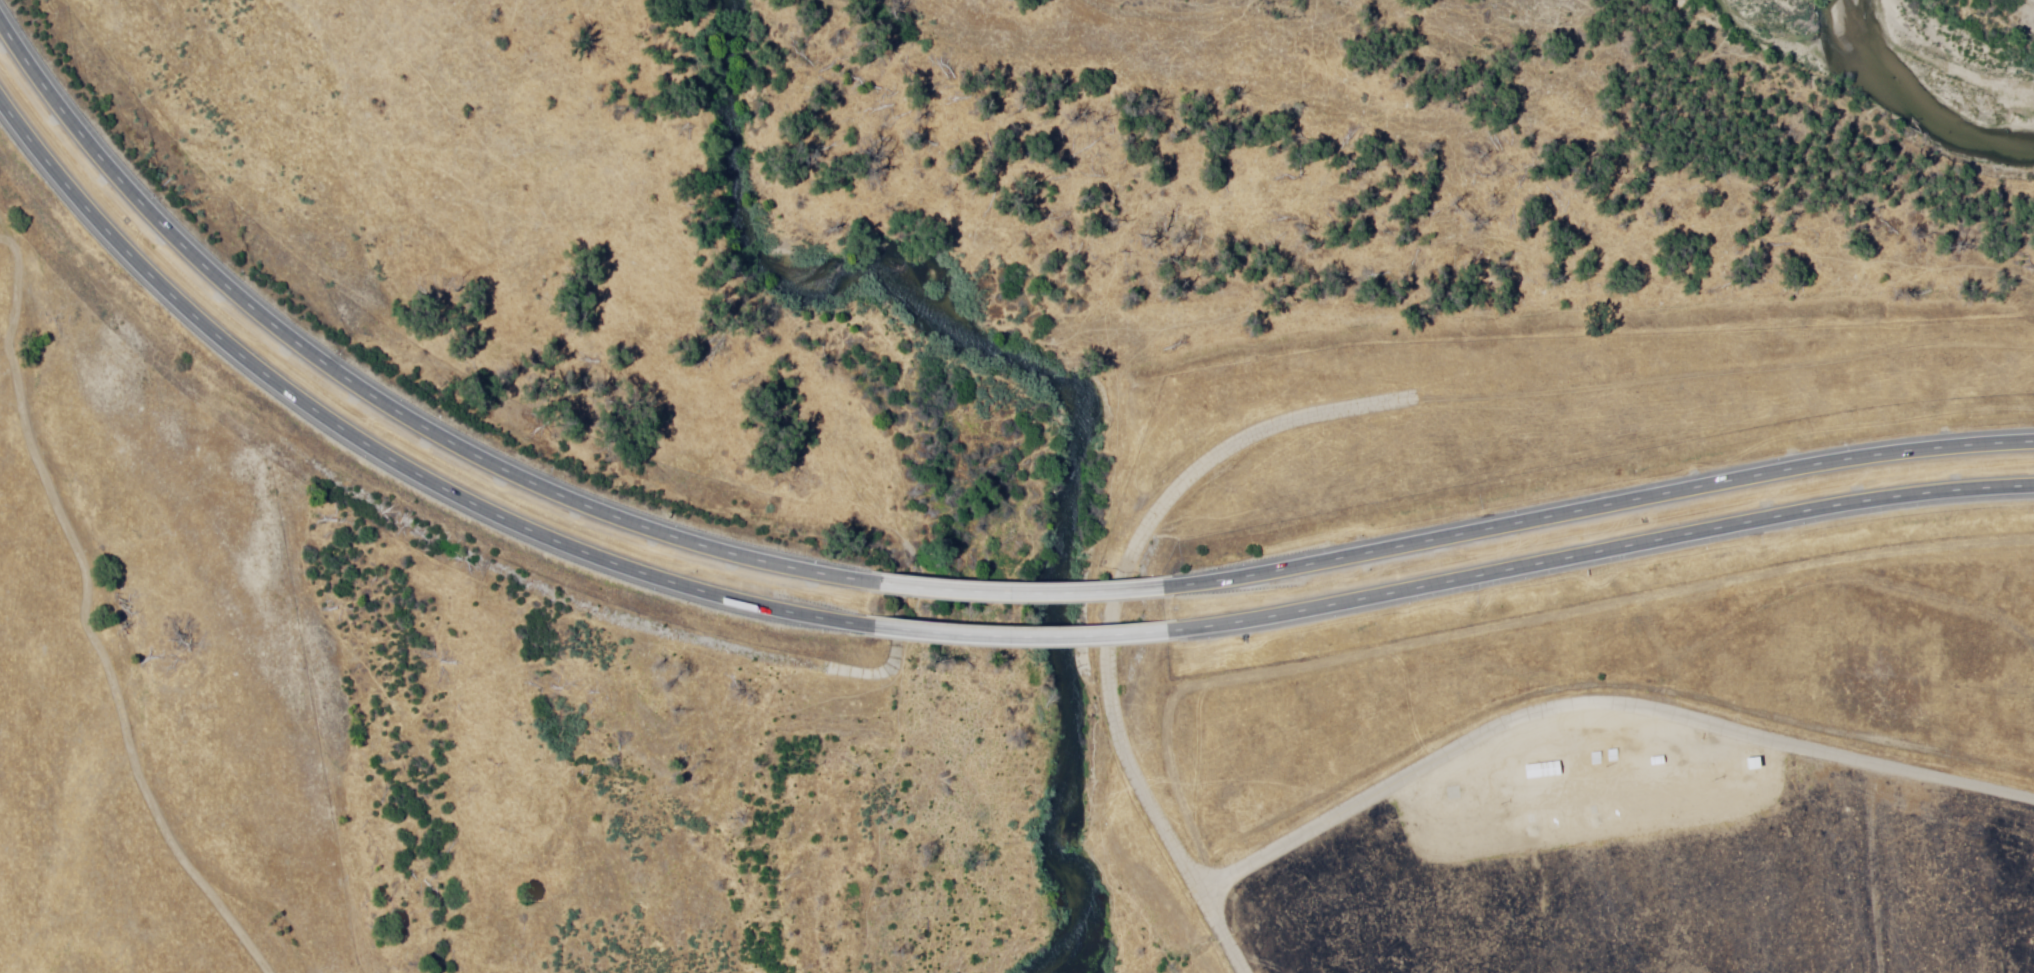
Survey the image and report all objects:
road: (1721, 369)
road: (374, 396)
road: (383, 443)
road: (1594, 505)
road: (1598, 552)
road: (1821, 571)
road: (1600, 583)
road: (1015, 592)
road: (1097, 604)
road: (1016, 633)
road: (143, 677)
road: (1595, 701)
building: (1626, 754)
building: (1575, 758)
building: (1746, 764)
building: (1536, 771)
road: (1866, 867)

